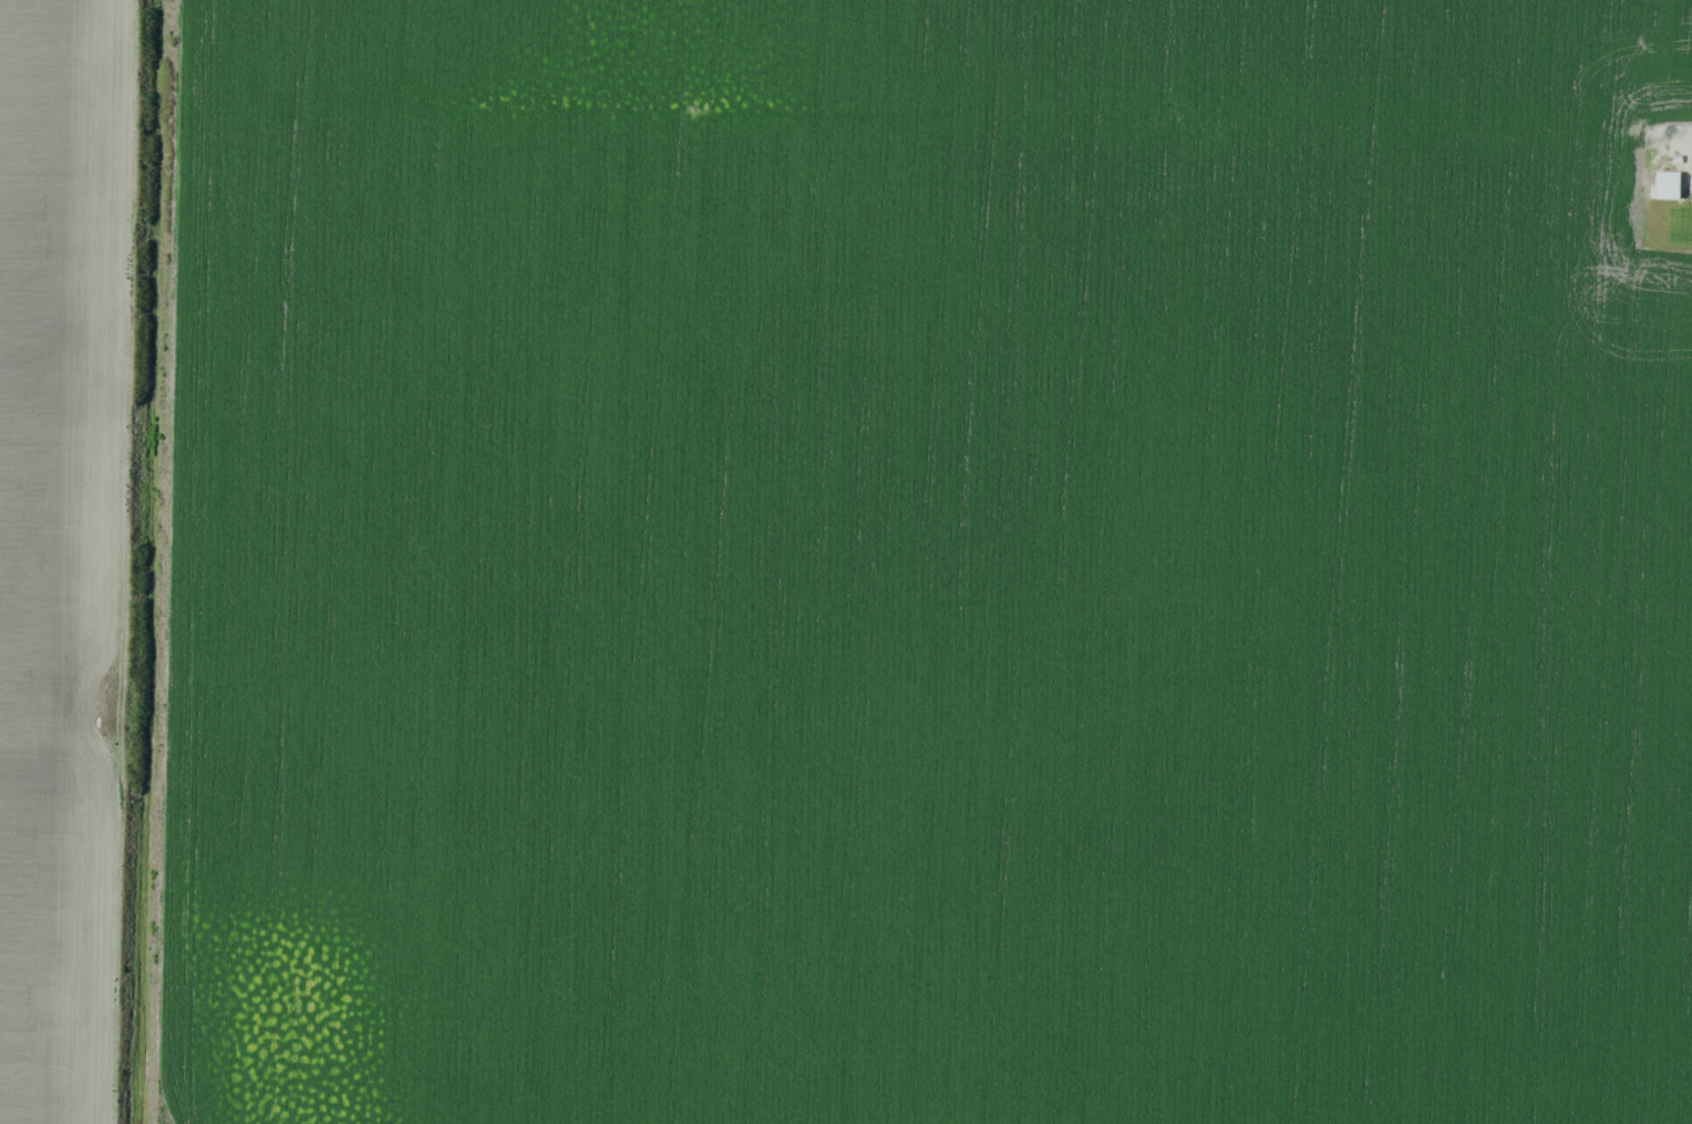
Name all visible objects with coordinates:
building: (1664, 185)

